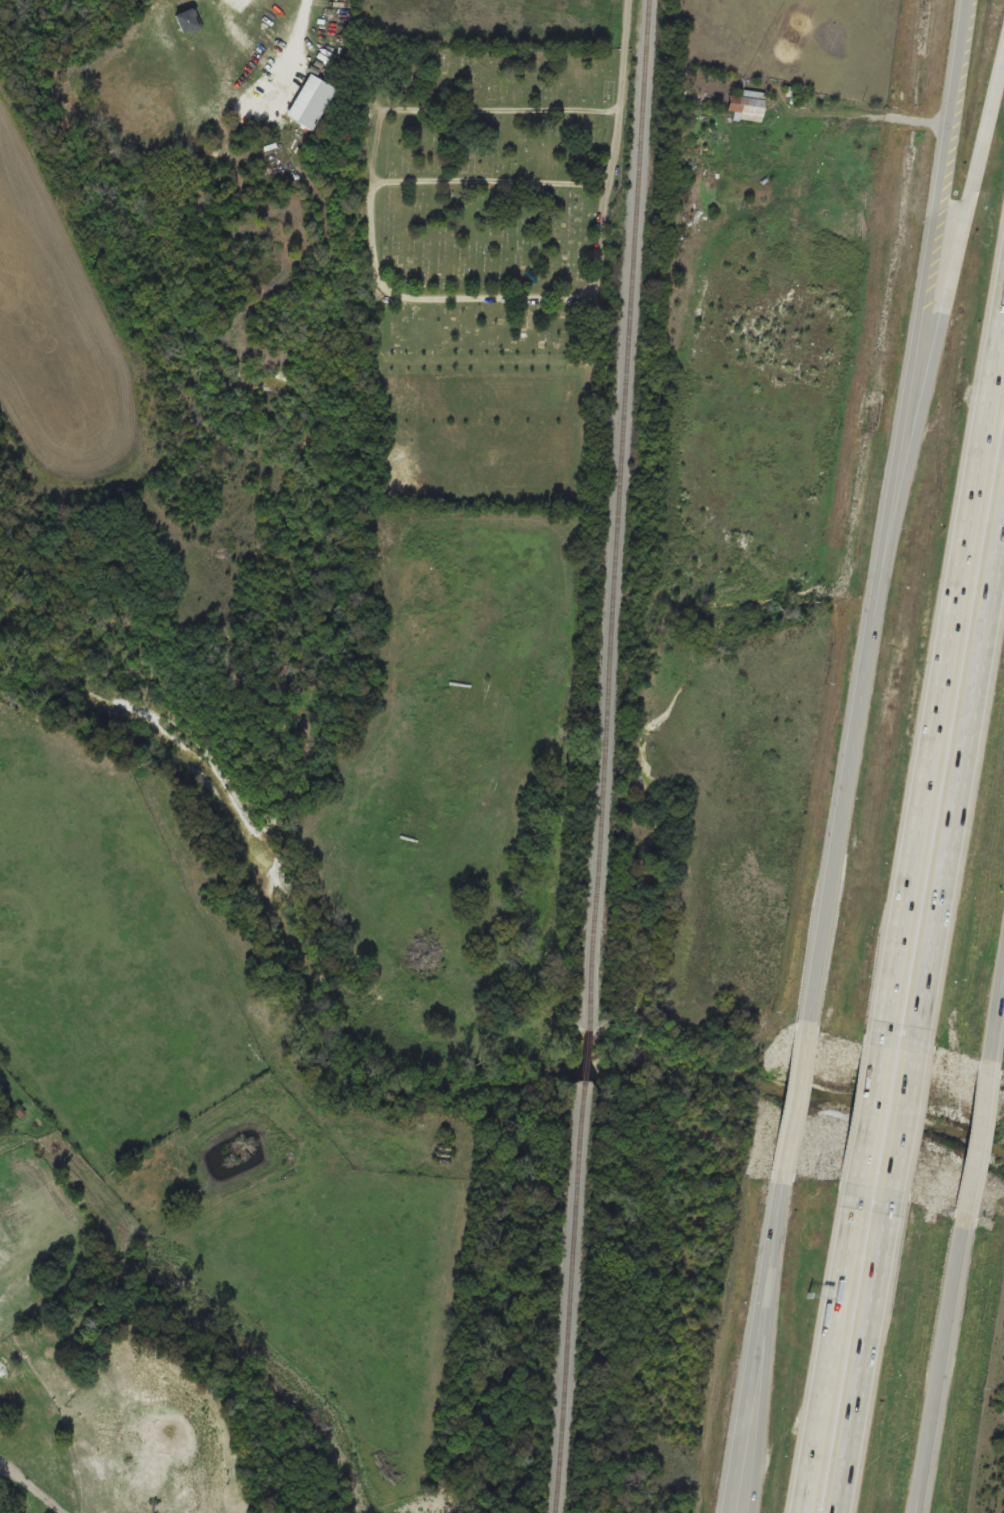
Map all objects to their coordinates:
building: (186, 19)
road: (627, 56)
building: (309, 100)
building: (746, 103)
road: (440, 107)
park: (490, 262)
road: (935, 349)
road: (889, 510)
railway: (619, 513)
road: (940, 667)
road: (960, 783)
road: (996, 1013)
railway: (584, 1053)
road: (797, 1100)
road: (869, 1126)
road: (902, 1131)
road: (975, 1142)
railway: (573, 1296)
road: (756, 1346)
road: (833, 1361)
road: (771, 1363)
road: (864, 1363)
road: (944, 1369)
road: (929, 1450)

